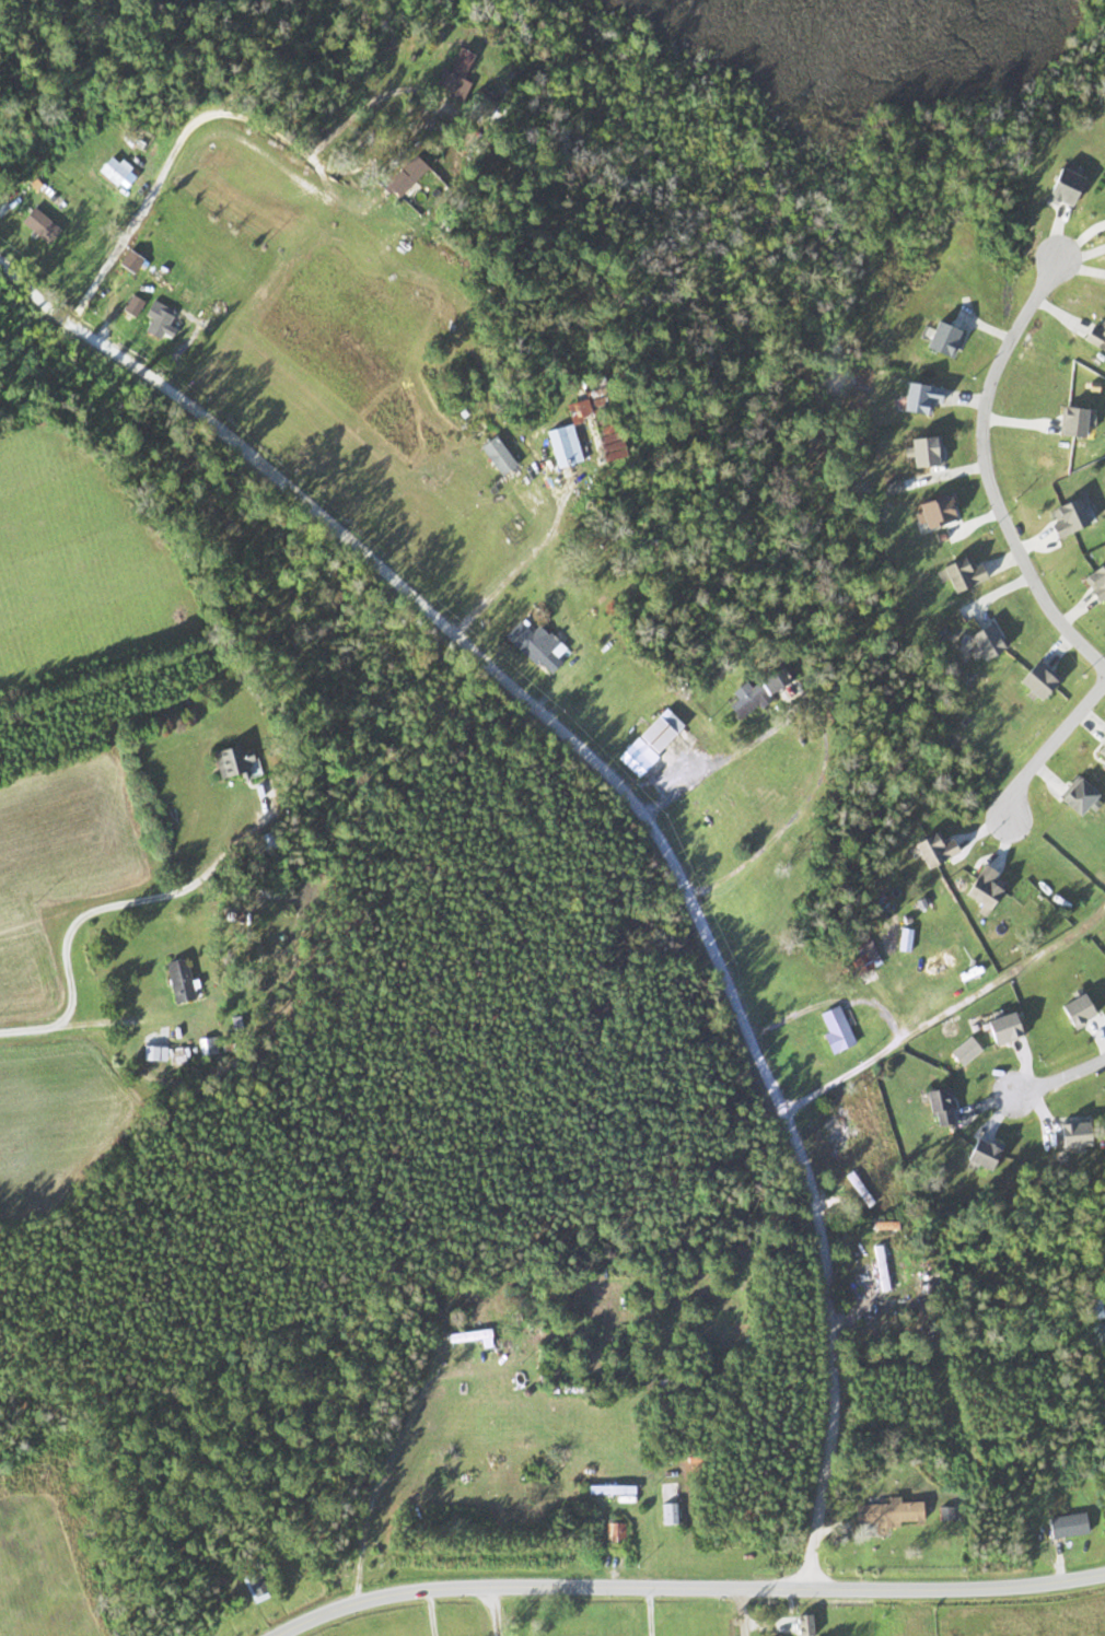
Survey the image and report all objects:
building: (457, 61)
building: (481, 101)
building: (111, 168)
building: (403, 175)
building: (1103, 187)
building: (37, 225)
building: (128, 261)
building: (130, 306)
building: (155, 319)
building: (1094, 337)
building: (940, 339)
road: (474, 346)
building: (916, 398)
building: (1067, 421)
building: (567, 435)
building: (605, 436)
building: (921, 451)
road: (987, 471)
building: (933, 510)
building: (1065, 515)
building: (1094, 580)
building: (982, 639)
building: (534, 645)
building: (1033, 679)
building: (758, 688)
building: (648, 741)
road: (1051, 743)
building: (234, 761)
building: (1074, 796)
road: (631, 802)
building: (929, 849)
building: (980, 888)
building: (859, 957)
building: (939, 961)
building: (176, 980)
road: (945, 1005)
building: (1072, 1009)
building: (833, 1028)
building: (998, 1029)
road: (1057, 1071)
building: (935, 1107)
building: (1070, 1134)
building: (978, 1155)
building: (880, 1267)
building: (1090, 1307)
building: (466, 1335)
building: (1095, 1335)
building: (667, 1382)
building: (608, 1489)
building: (886, 1514)
building: (668, 1515)
building: (1066, 1526)
building: (613, 1536)
building: (253, 1586)
road: (686, 1586)
road: (742, 1611)
building: (571, 1628)

